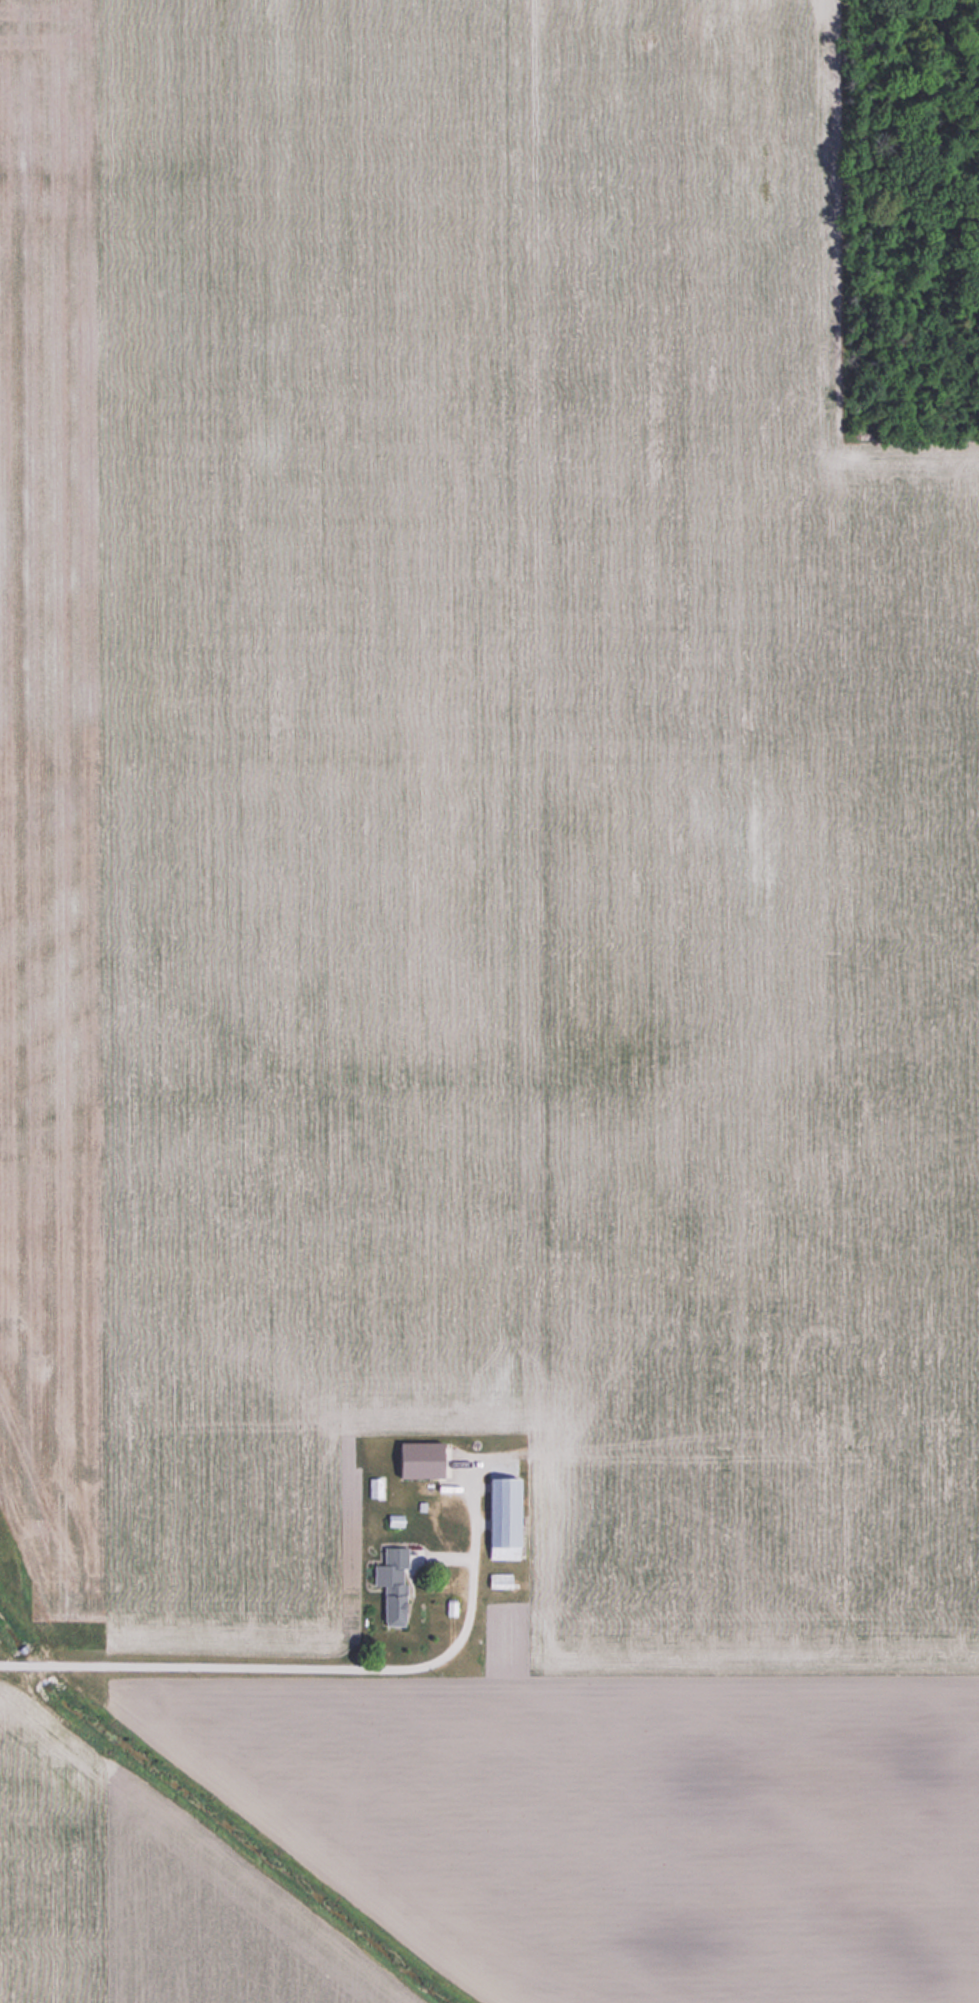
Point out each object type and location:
building: (424, 1465)
building: (375, 1487)
building: (501, 1518)
building: (393, 1520)
building: (498, 1581)
building: (389, 1585)
road: (259, 1668)

